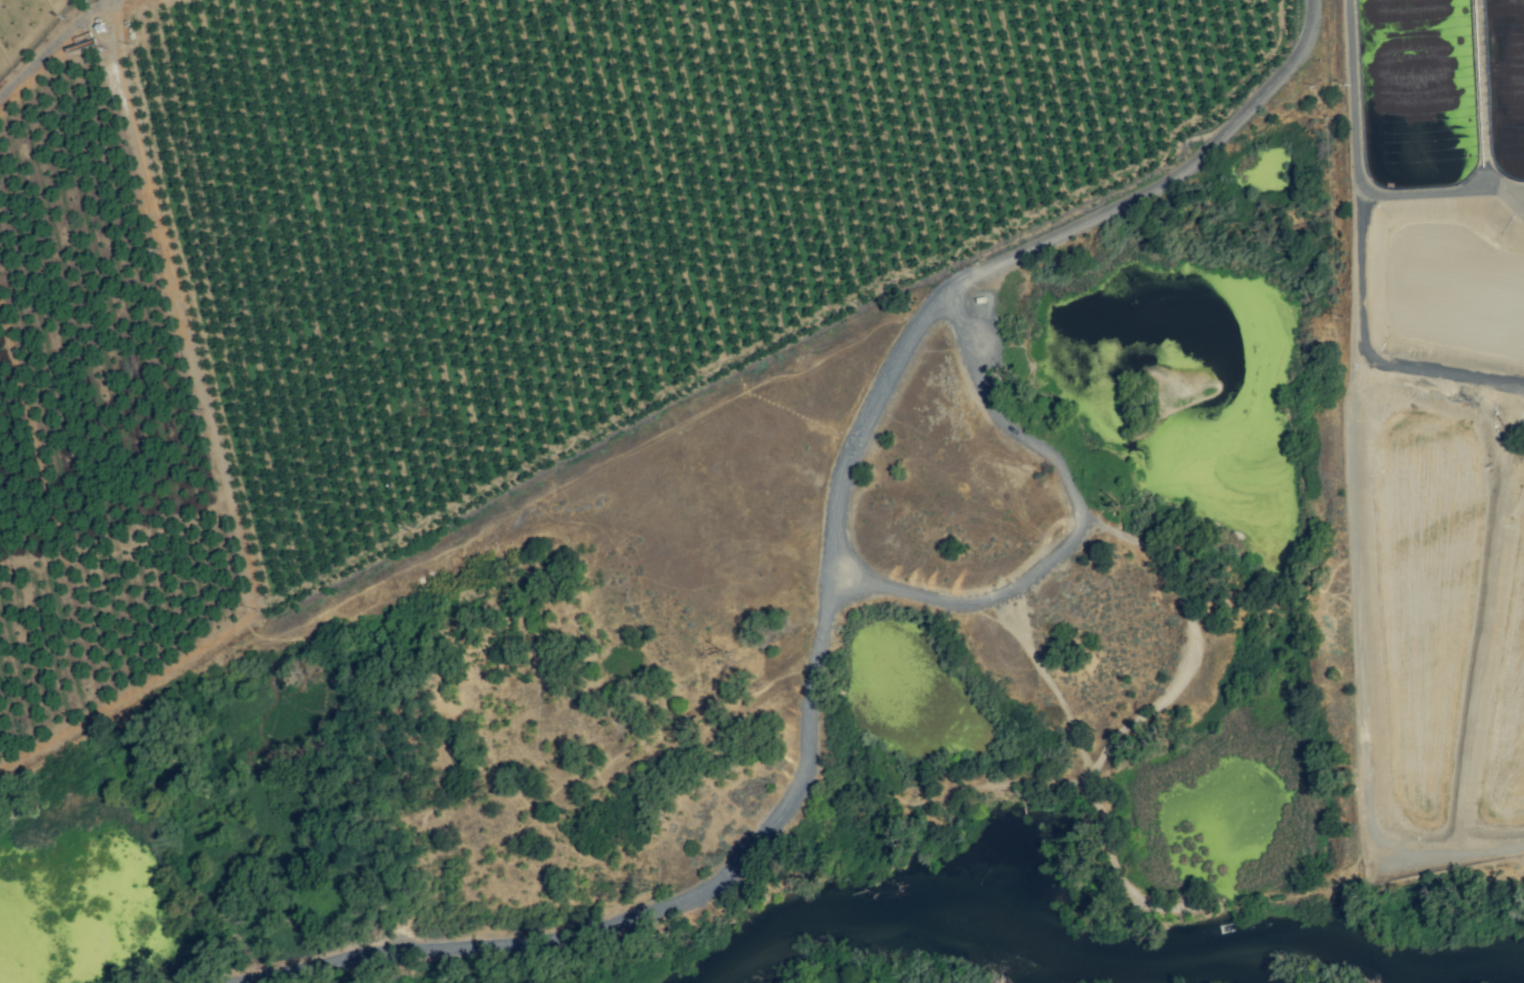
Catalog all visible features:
road: (1350, 35)
road: (48, 45)
road: (1030, 245)
crop: (488, 260)
road: (1079, 528)
river: (1104, 947)

